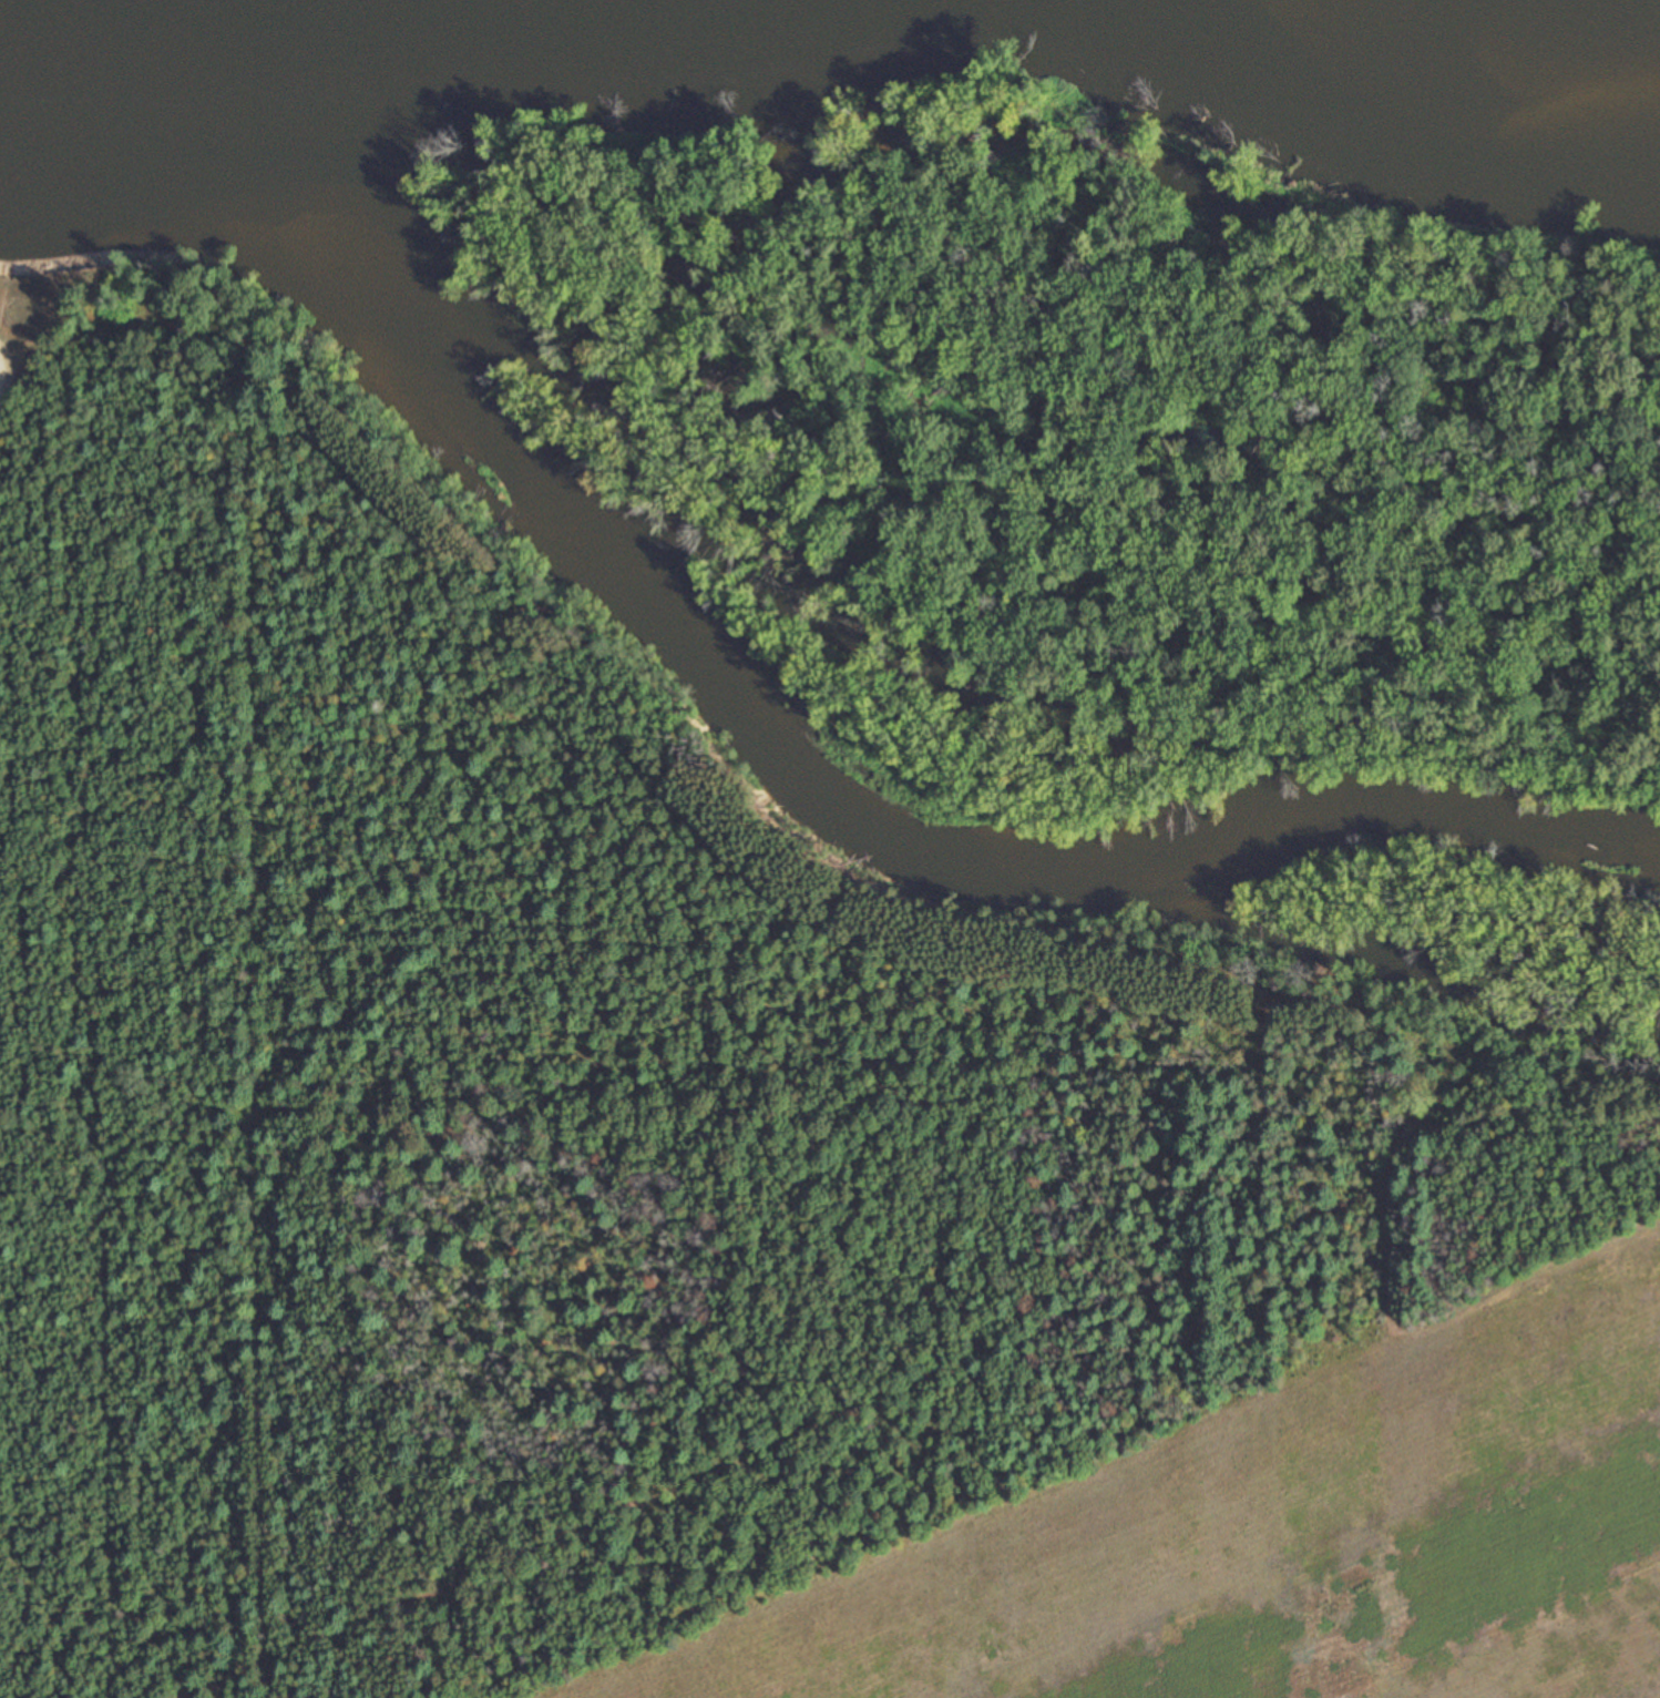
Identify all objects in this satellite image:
airport: (1270, 1532)

